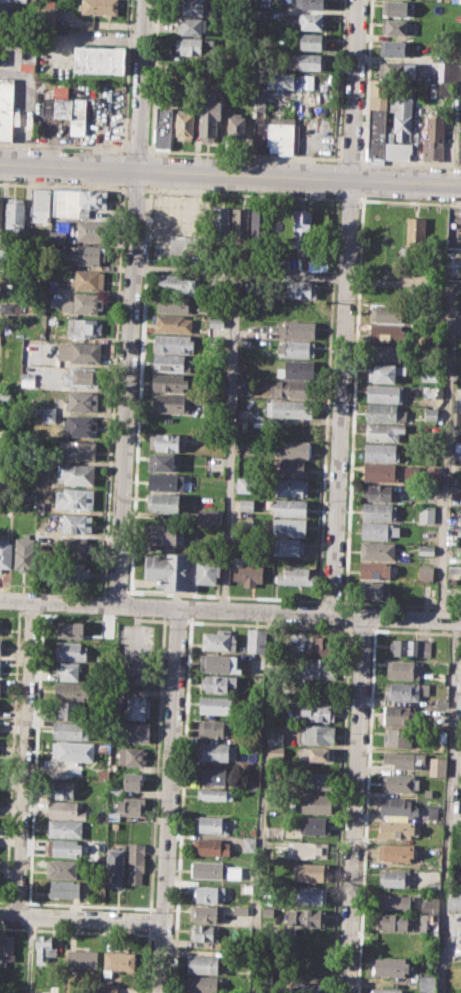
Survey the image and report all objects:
building: (18, 0)
building: (456, 0)
building: (49, 2)
building: (311, 4)
building: (99, 7)
building: (192, 7)
building: (397, 8)
building: (261, 13)
building: (46, 17)
building: (312, 21)
building: (192, 26)
building: (398, 27)
building: (313, 41)
building: (195, 46)
building: (394, 47)
building: (27, 55)
building: (99, 59)
building: (309, 62)
building: (397, 70)
building: (449, 70)
building: (193, 75)
road: (126, 76)
building: (279, 80)
road: (368, 80)
building: (307, 81)
road: (140, 84)
building: (444, 88)
road: (354, 89)
building: (378, 92)
building: (6, 107)
building: (66, 108)
building: (402, 113)
building: (210, 115)
building: (185, 121)
building: (163, 127)
building: (237, 131)
building: (377, 132)
building: (275, 133)
building: (434, 138)
road: (64, 145)
road: (137, 148)
building: (459, 148)
building: (397, 149)
road: (245, 154)
road: (351, 159)
road: (410, 161)
road: (122, 169)
road: (230, 172)
road: (65, 185)
road: (121, 186)
road: (136, 190)
road: (243, 193)
road: (350, 199)
building: (92, 201)
road: (410, 201)
building: (65, 202)
building: (40, 205)
building: (0, 211)
building: (158, 212)
building: (15, 215)
building: (220, 224)
building: (258, 224)
building: (240, 225)
building: (302, 228)
building: (92, 230)
building: (57, 237)
building: (415, 238)
building: (185, 249)
building: (0, 250)
building: (88, 256)
building: (453, 263)
building: (88, 279)
building: (178, 284)
building: (300, 289)
road: (451, 294)
building: (53, 302)
building: (82, 303)
building: (174, 304)
building: (7, 307)
building: (296, 309)
building: (390, 312)
building: (173, 323)
building: (215, 324)
building: (83, 327)
building: (297, 328)
building: (386, 332)
building: (430, 339)
building: (174, 343)
building: (297, 348)
building: (78, 351)
building: (386, 353)
building: (171, 362)
building: (296, 368)
building: (385, 372)
building: (27, 375)
building: (81, 375)
building: (429, 375)
building: (170, 382)
road: (127, 386)
building: (293, 388)
building: (384, 392)
road: (112, 393)
building: (460, 393)
road: (340, 396)
building: (83, 400)
building: (170, 402)
building: (289, 409)
building: (455, 411)
building: (47, 412)
building: (385, 412)
building: (431, 413)
building: (78, 425)
building: (385, 432)
building: (168, 441)
road: (230, 442)
building: (246, 442)
building: (292, 448)
building: (77, 449)
building: (458, 450)
building: (381, 451)
building: (161, 461)
building: (290, 468)
building: (381, 472)
building: (76, 473)
building: (433, 475)
building: (165, 481)
building: (244, 484)
building: (290, 486)
building: (377, 491)
building: (75, 498)
building: (163, 503)
building: (245, 504)
building: (40, 505)
building: (290, 507)
building: (378, 511)
building: (426, 515)
building: (210, 516)
building: (245, 520)
silo: (245, 520)
building: (459, 520)
building: (76, 523)
building: (289, 526)
building: (379, 530)
building: (166, 533)
building: (41, 535)
building: (289, 546)
building: (74, 548)
building: (378, 549)
building: (426, 550)
building: (5, 552)
building: (24, 553)
building: (454, 569)
building: (181, 570)
building: (374, 570)
building: (74, 571)
building: (248, 571)
building: (425, 573)
building: (294, 576)
road: (115, 591)
building: (375, 591)
road: (222, 595)
road: (330, 600)
road: (399, 603)
road: (230, 610)
building: (1, 625)
building: (70, 629)
building: (218, 640)
building: (256, 640)
building: (0, 644)
building: (324, 645)
building: (410, 647)
building: (70, 650)
parking lot: (135, 654)
building: (0, 660)
building: (219, 663)
building: (319, 668)
building: (402, 669)
building: (68, 671)
building: (217, 682)
building: (72, 690)
building: (402, 690)
building: (458, 700)
building: (216, 704)
building: (134, 706)
building: (72, 710)
building: (319, 711)
building: (400, 715)
building: (213, 728)
building: (71, 730)
building: (135, 732)
building: (315, 734)
building: (275, 736)
building: (398, 737)
building: (72, 750)
building: (216, 752)
building: (275, 752)
building: (318, 754)
building: (131, 755)
road: (25, 758)
building: (405, 759)
building: (437, 765)
building: (212, 775)
building: (319, 780)
building: (132, 782)
building: (401, 782)
building: (65, 789)
building: (114, 790)
building: (428, 792)
building: (213, 793)
road: (168, 800)
road: (262, 802)
building: (317, 803)
road: (353, 804)
building: (131, 805)
building: (398, 805)
road: (448, 805)
building: (67, 810)
building: (433, 812)
building: (396, 817)
building: (208, 823)
building: (315, 825)
building: (66, 828)
building: (396, 828)
building: (248, 843)
building: (210, 846)
building: (65, 848)
building: (306, 849)
building: (396, 851)
building: (136, 864)
building: (114, 865)
building: (63, 867)
building: (208, 869)
building: (234, 872)
building: (309, 872)
building: (395, 878)
building: (434, 886)
building: (65, 888)
building: (247, 888)
building: (206, 893)
building: (309, 894)
building: (454, 899)
building: (394, 902)
building: (430, 905)
building: (240, 909)
building: (207, 913)
road: (81, 916)
building: (305, 917)
building: (398, 921)
building: (423, 926)
building: (205, 931)
building: (6, 947)
building: (45, 947)
road: (29, 954)
building: (82, 958)
building: (117, 961)
building: (203, 963)
building: (391, 965)
building: (448, 981)
building: (426, 983)
building: (204, 984)
building: (305, 987)
building: (107, 988)
building: (47, 989)
building: (386, 990)

